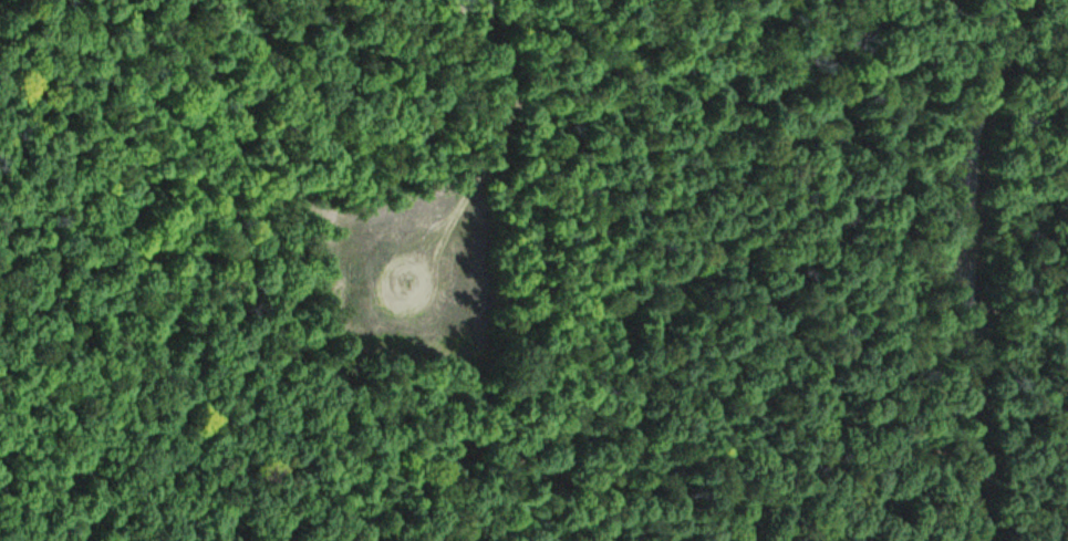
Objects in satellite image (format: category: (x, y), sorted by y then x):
road: (552, 115)
road: (509, 148)
road: (981, 269)
petroleum well: (406, 283)
road: (405, 306)

